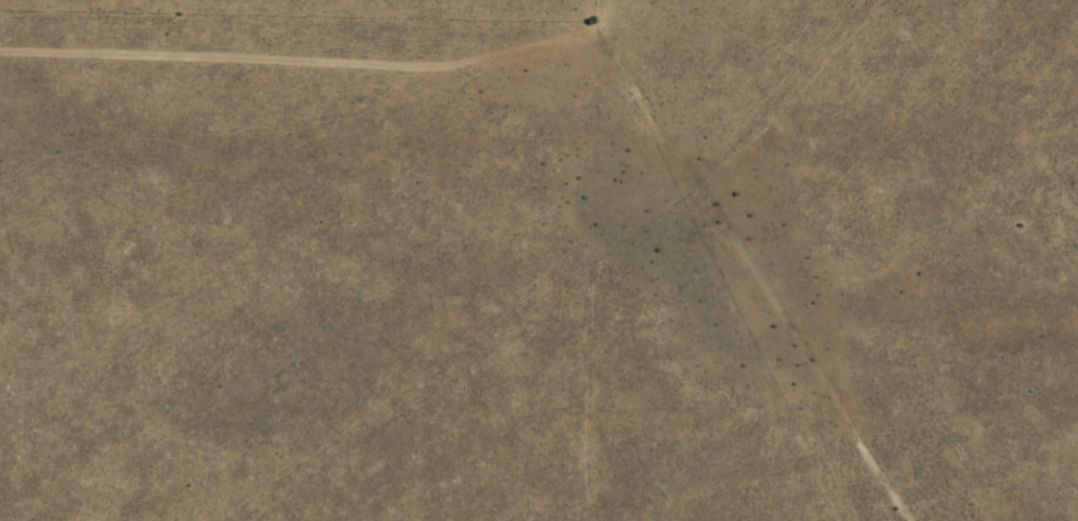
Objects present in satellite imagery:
road: (617, 324)

